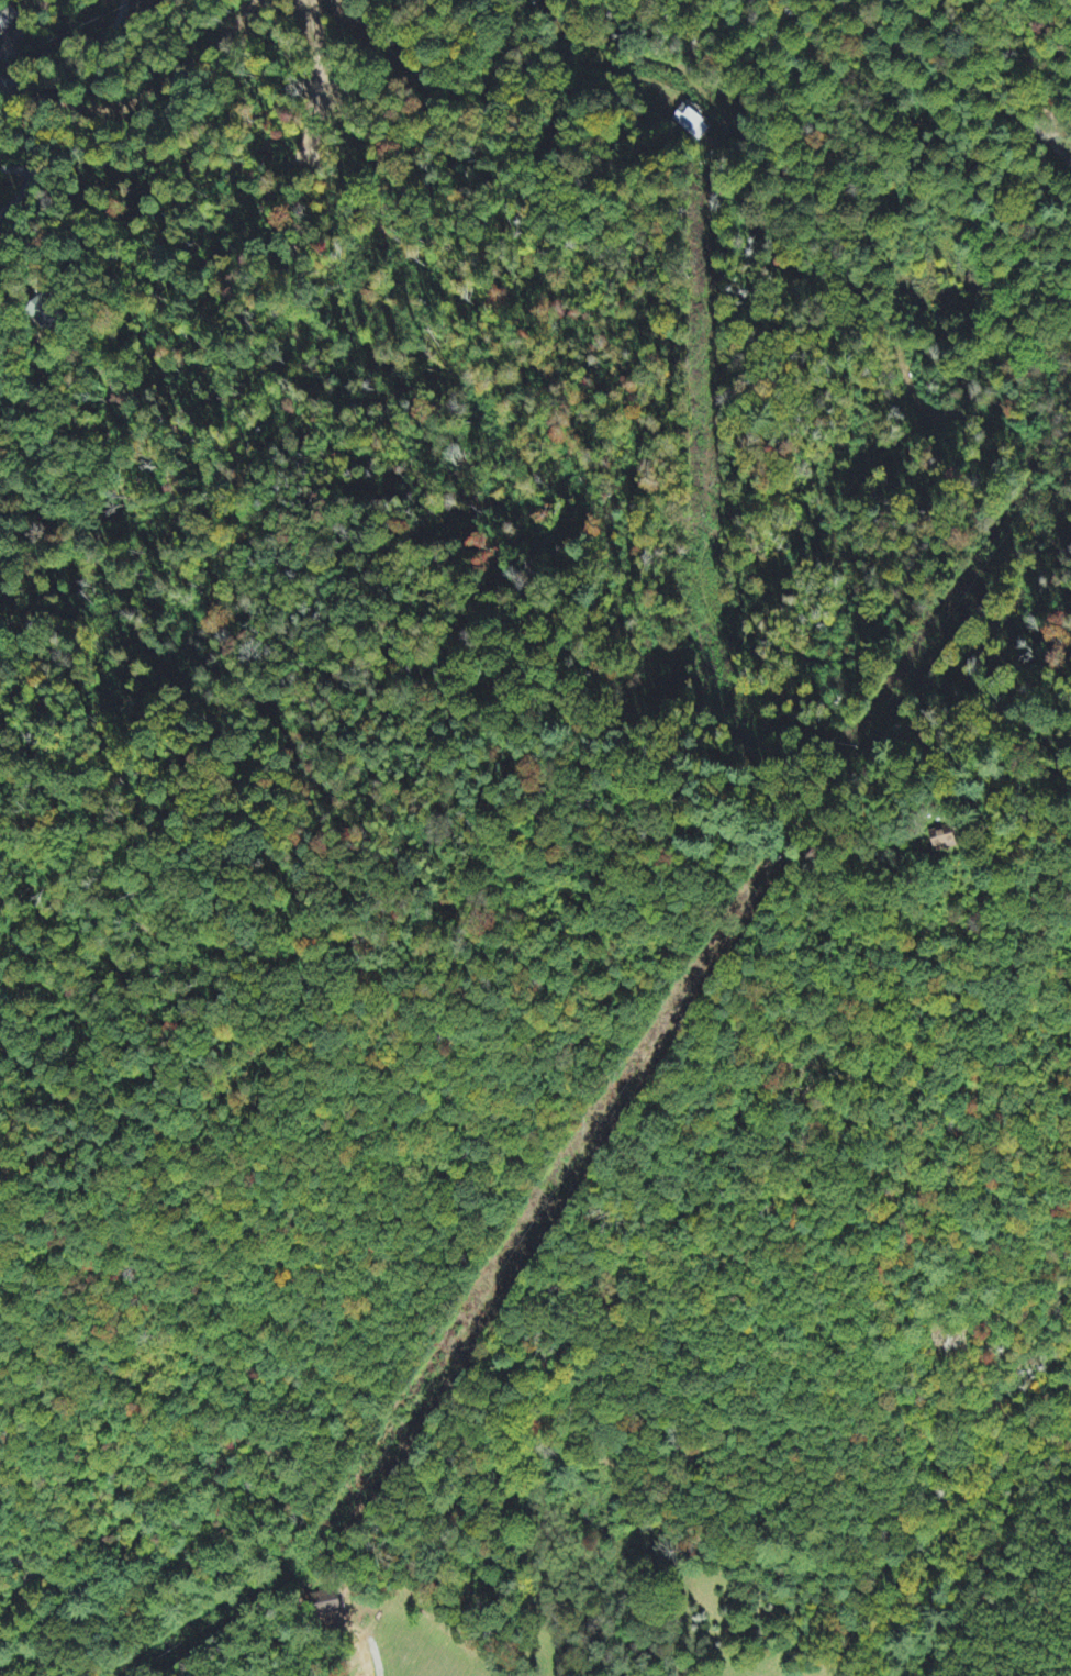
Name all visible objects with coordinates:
road: (116, 7)
road: (1028, 65)
road: (81, 69)
road: (959, 84)
building: (691, 126)
road: (805, 138)
building: (44, 311)
building: (944, 840)
road: (29, 1573)

